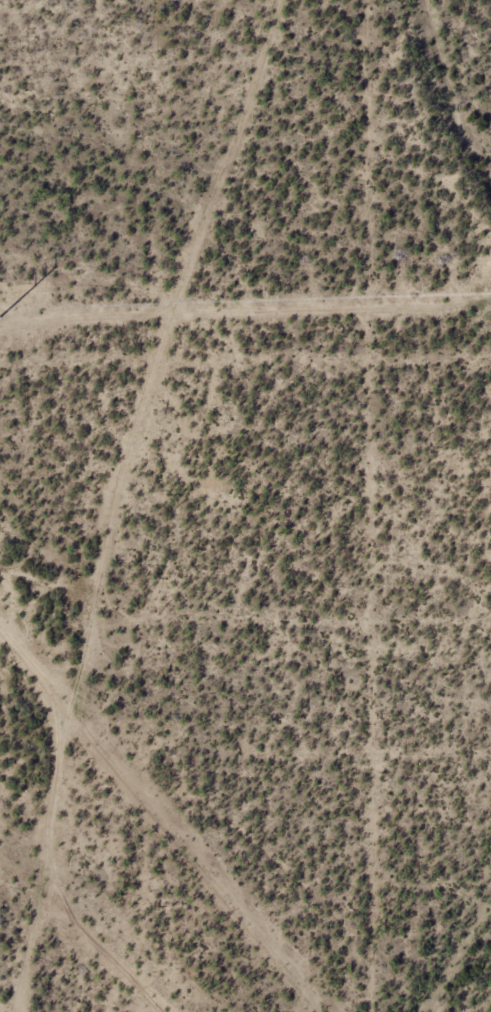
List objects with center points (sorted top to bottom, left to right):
power tower: (0, 316)
road: (109, 481)
road: (32, 650)

